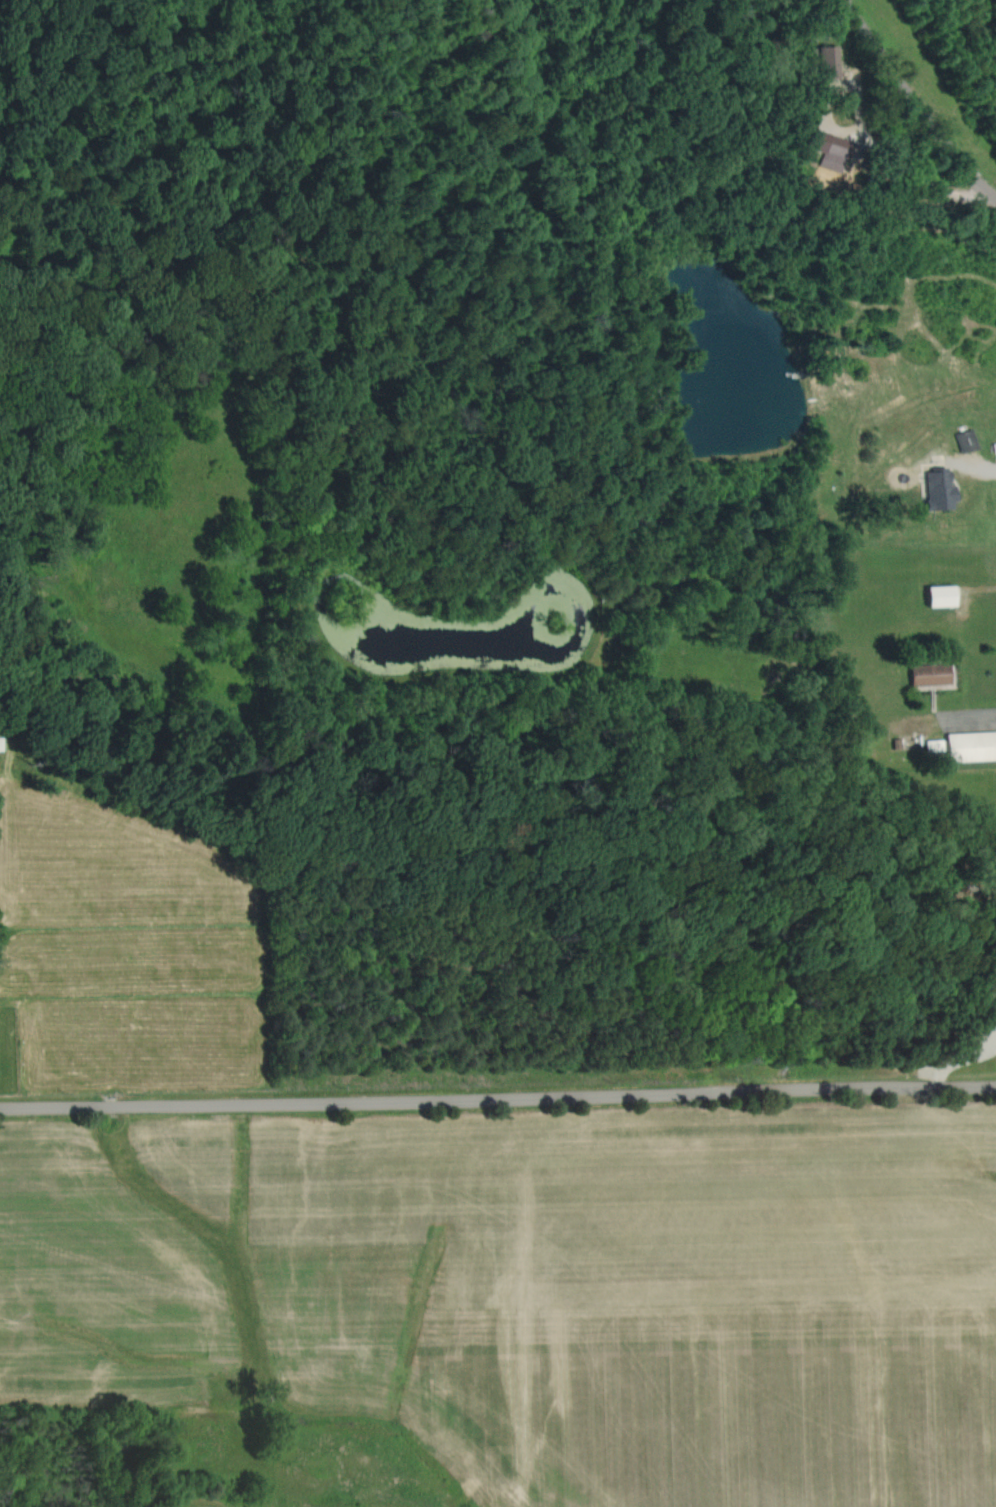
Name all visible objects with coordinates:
road: (915, 99)
building: (831, 152)
road: (983, 468)
building: (937, 490)
road: (985, 581)
building: (938, 596)
building: (927, 676)
road: (986, 704)
building: (967, 746)
building: (995, 1007)
road: (498, 1103)

